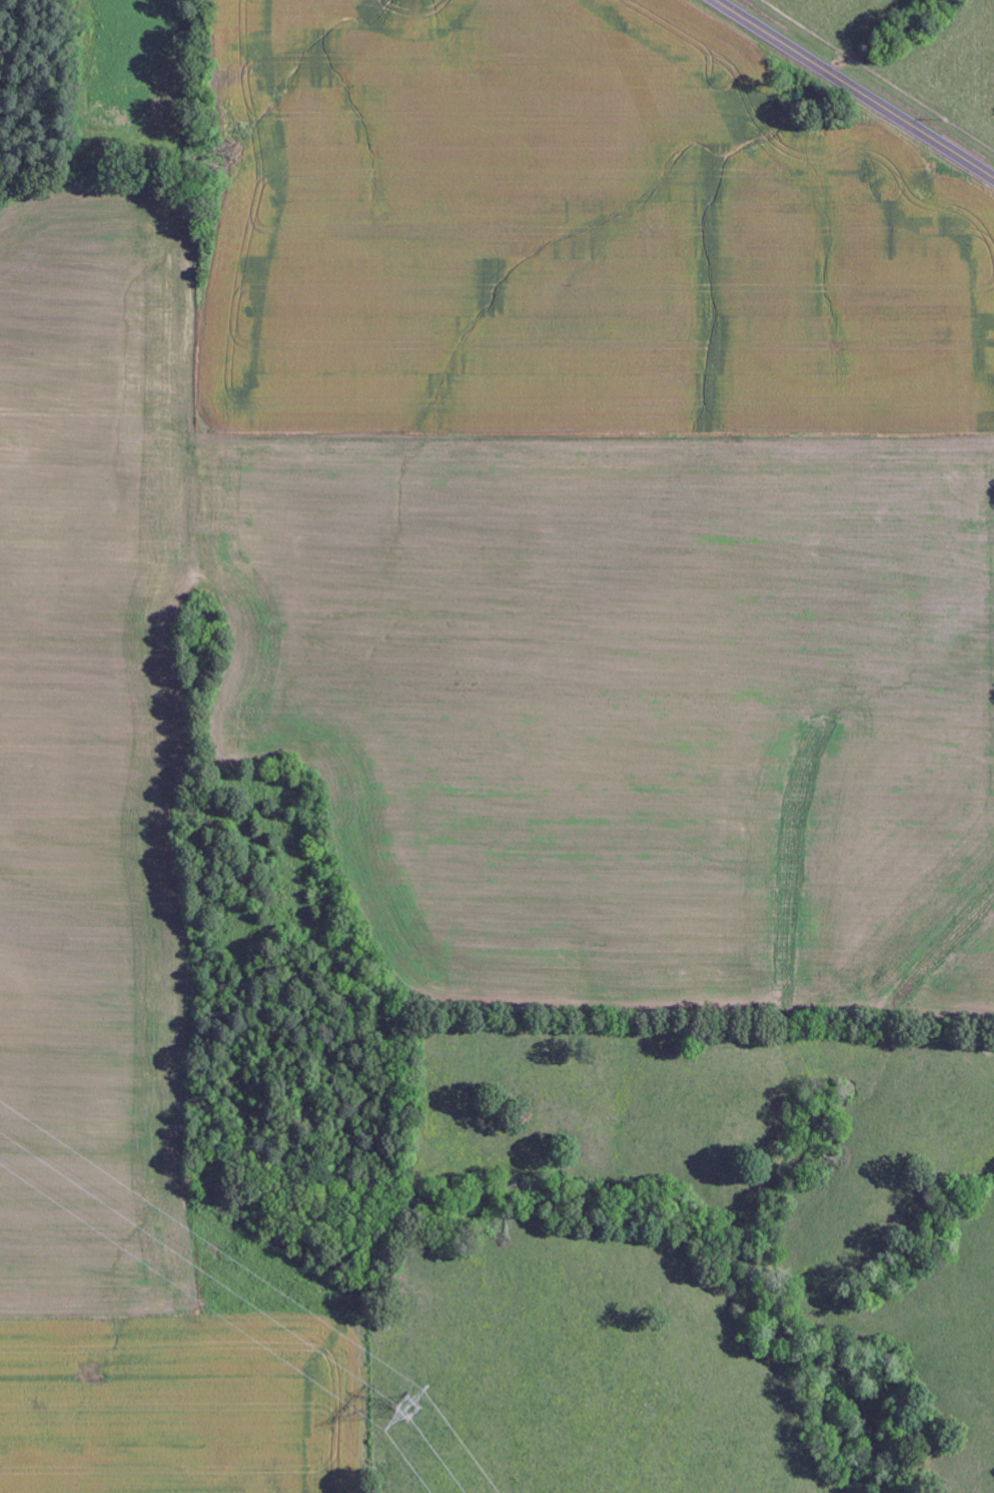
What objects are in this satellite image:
road: (855, 88)
power tower: (409, 1401)

